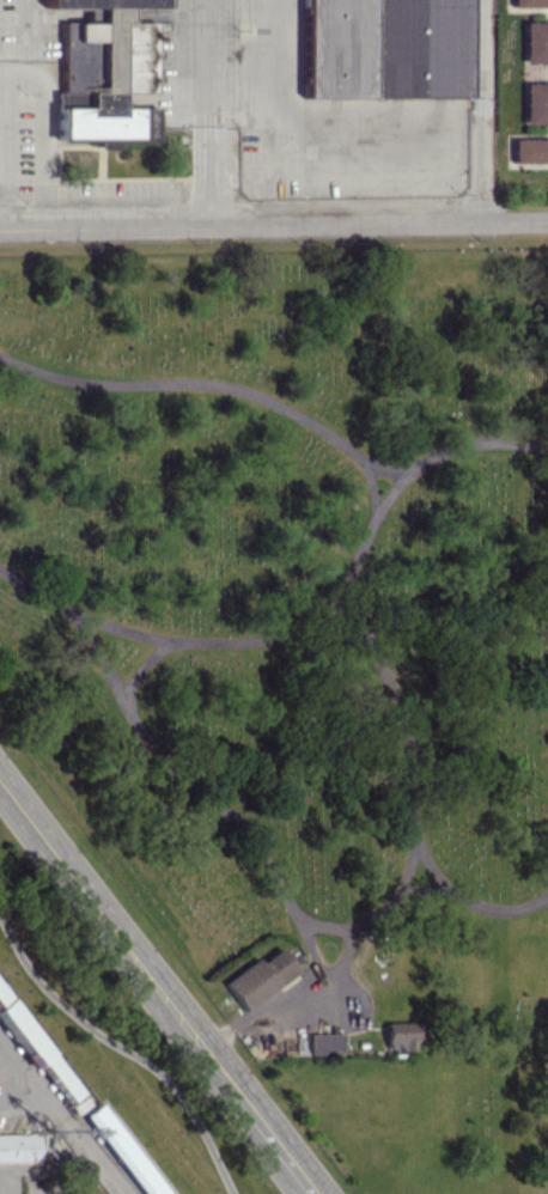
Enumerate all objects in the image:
building: (105, 2)
building: (528, 2)
building: (534, 41)
building: (389, 48)
building: (136, 56)
road: (208, 62)
building: (535, 103)
park: (520, 105)
road: (482, 110)
road: (41, 135)
building: (529, 150)
road: (208, 175)
road: (0, 209)
road: (273, 224)
road: (281, 406)
road: (372, 485)
road: (357, 561)
road: (322, 607)
road: (310, 634)
park: (304, 660)
road: (141, 665)
road: (199, 788)
road: (430, 867)
road: (327, 925)
road: (355, 927)
building: (257, 977)
road: (157, 987)
building: (398, 1036)
building: (322, 1043)
building: (36, 1047)
road: (124, 1049)
road: (26, 1074)
road: (26, 1109)
building: (18, 1147)
road: (96, 1149)
building: (122, 1151)
road: (56, 1168)
road: (6, 1181)
road: (39, 1181)

